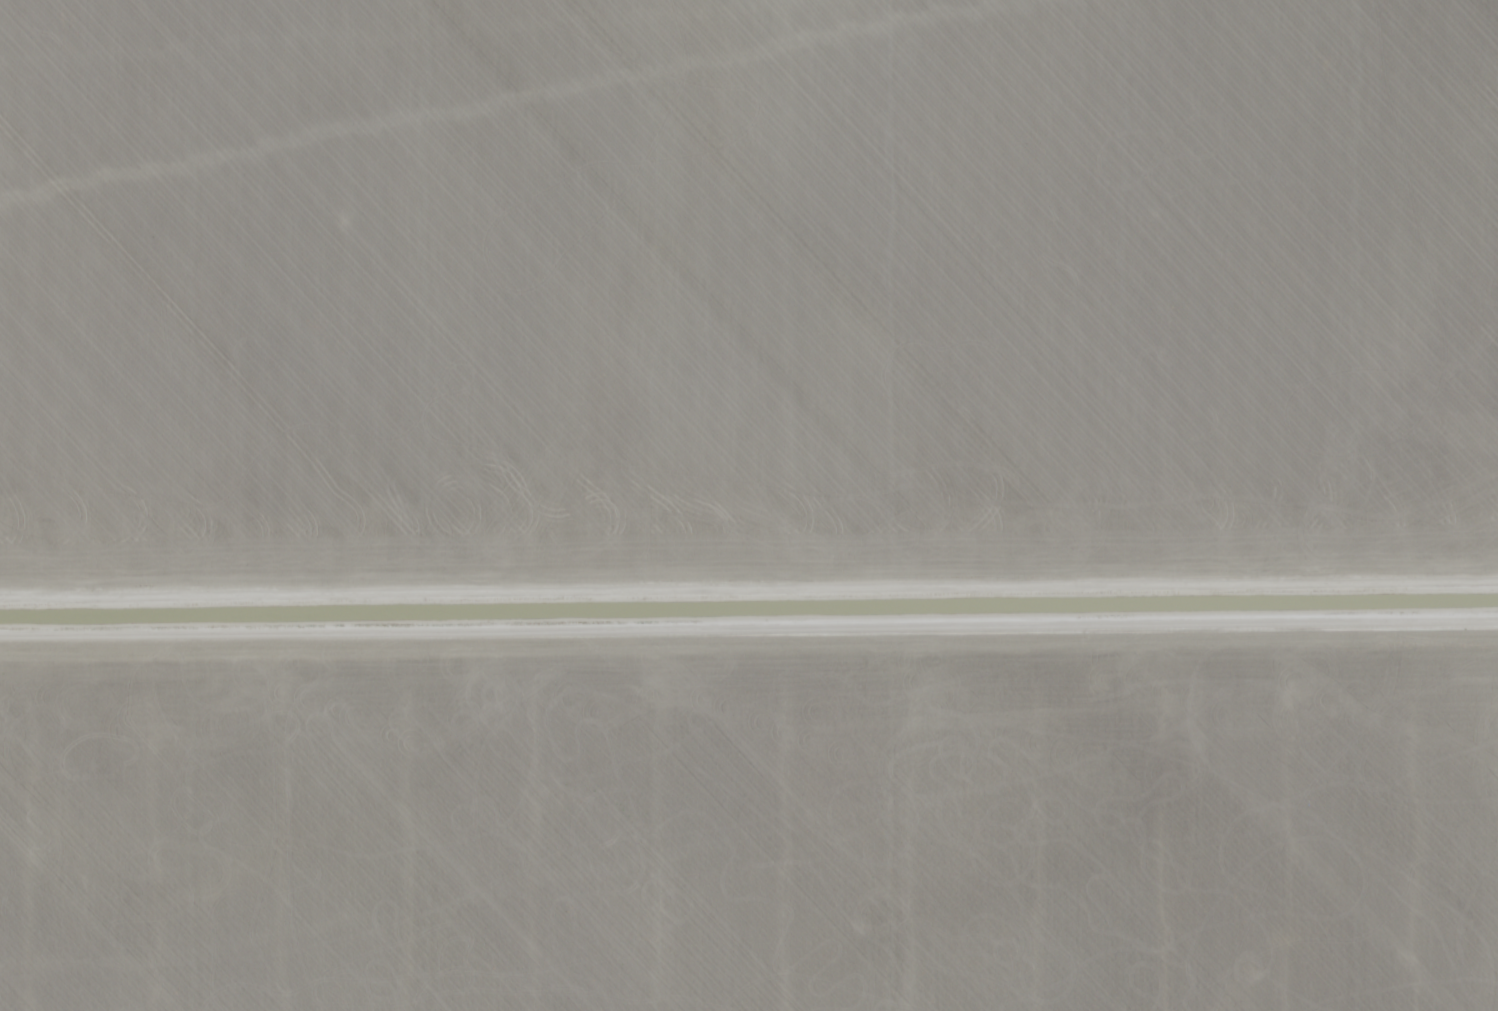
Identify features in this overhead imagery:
road: (748, 625)

